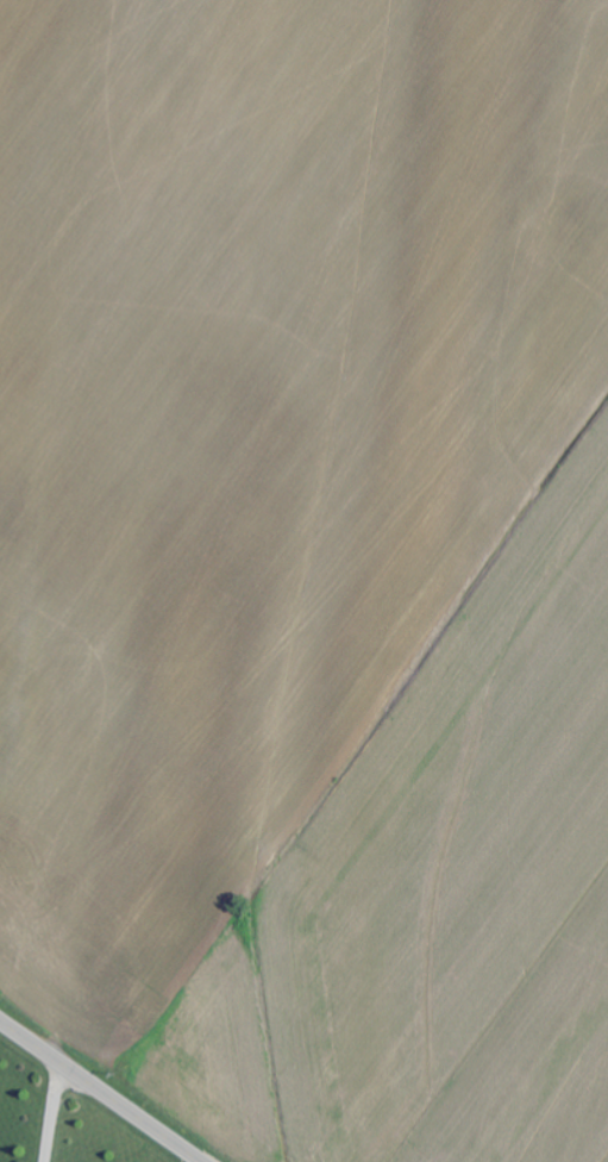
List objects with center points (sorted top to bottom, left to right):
road: (100, 1091)
road: (56, 1113)

